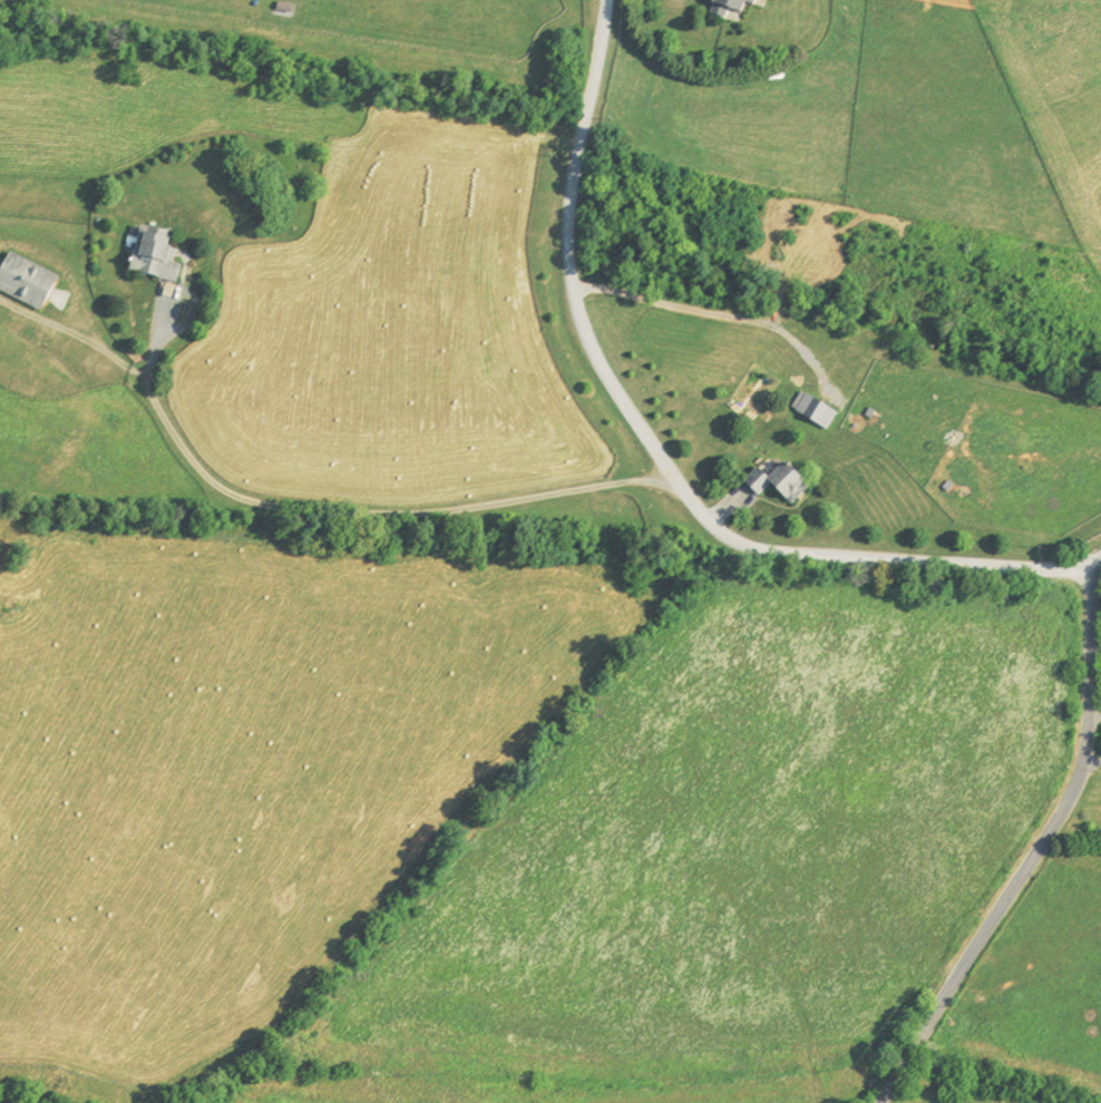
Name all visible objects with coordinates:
building: (722, 9)
building: (149, 258)
building: (22, 284)
road: (156, 340)
road: (653, 459)
building: (773, 486)
road: (329, 508)
road: (1033, 851)

